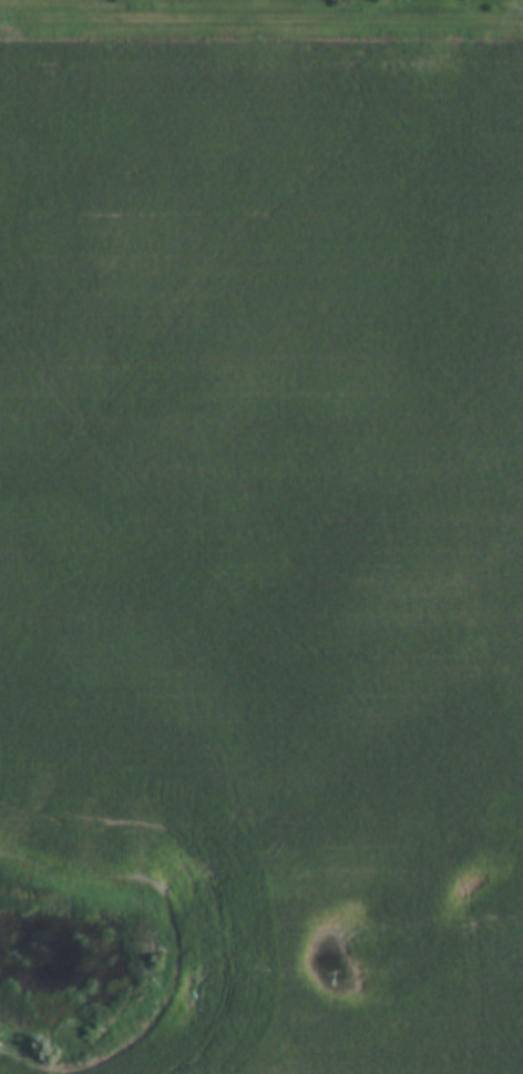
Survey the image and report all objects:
road: (261, 14)

